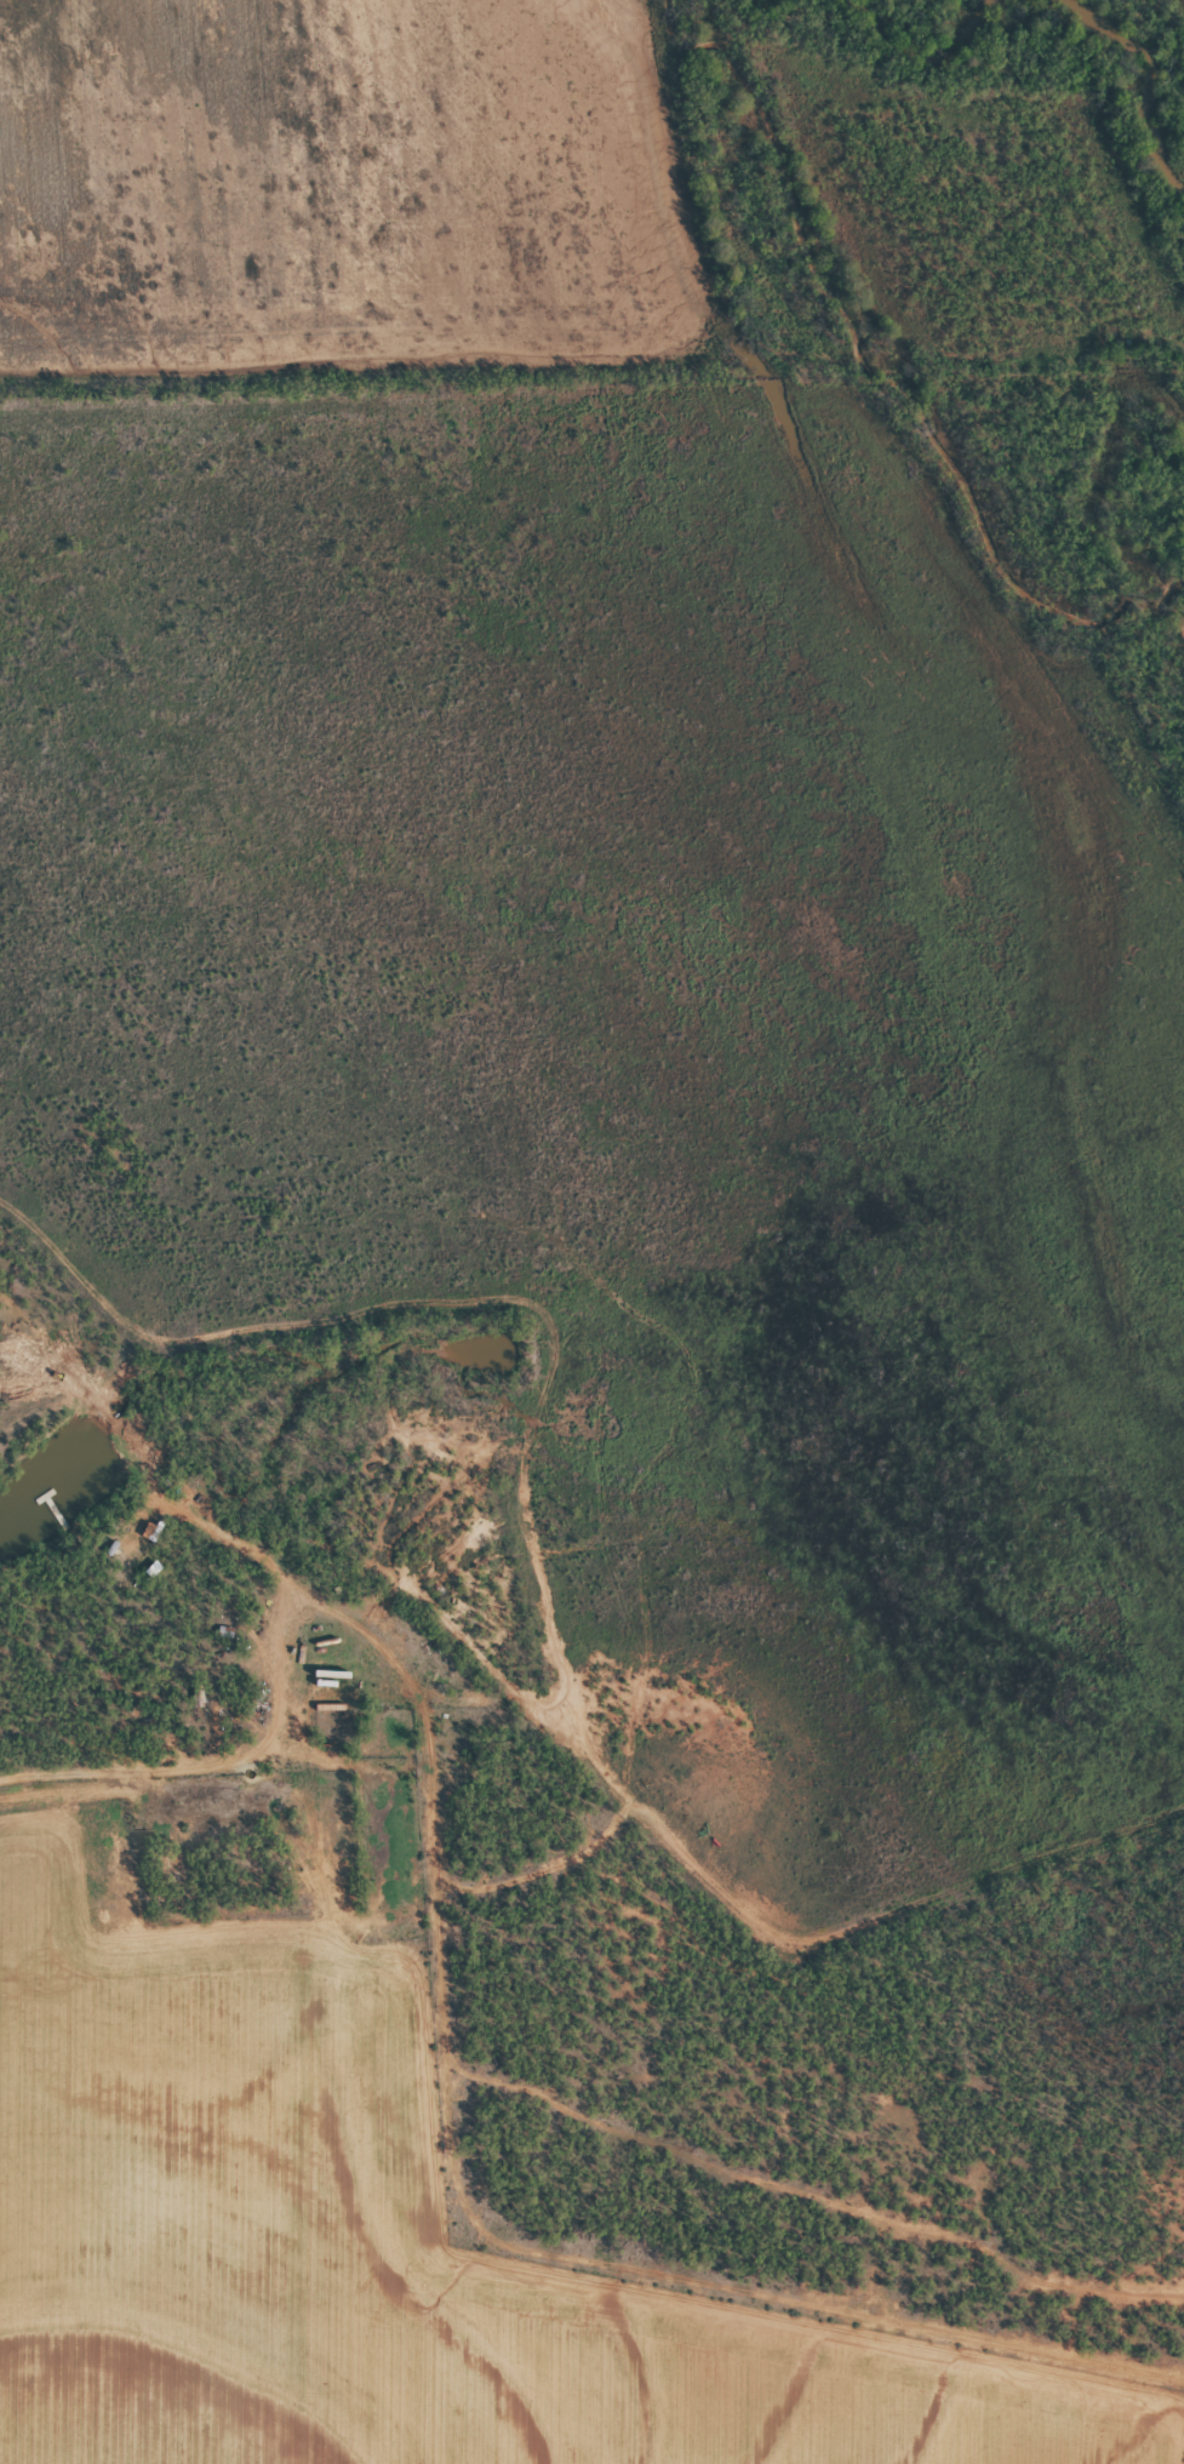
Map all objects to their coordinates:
road: (578, 1354)
road: (539, 2182)

